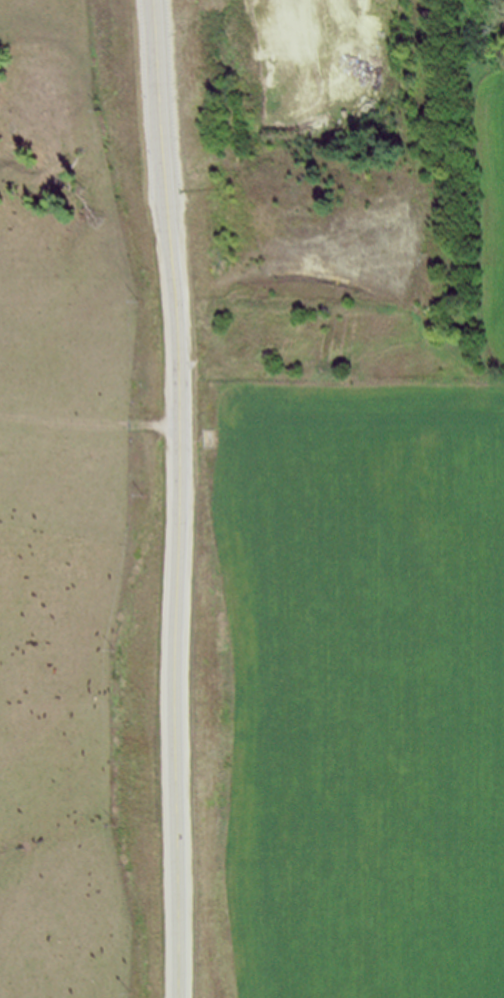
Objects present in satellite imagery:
quarry: (337, 199)
road: (183, 498)

